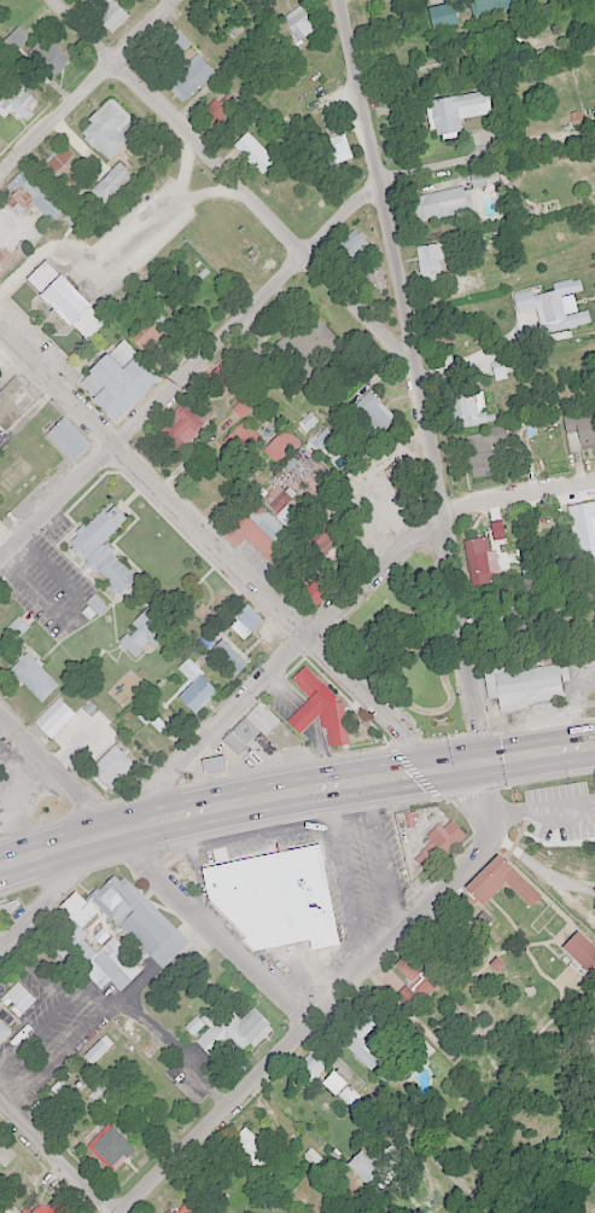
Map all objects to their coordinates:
building: (491, 5)
building: (109, 13)
building: (441, 14)
building: (298, 23)
building: (51, 60)
building: (189, 77)
road: (86, 86)
building: (17, 100)
building: (217, 109)
building: (456, 109)
building: (106, 128)
building: (0, 143)
building: (336, 149)
building: (253, 151)
road: (466, 156)
building: (57, 158)
road: (186, 175)
building: (110, 181)
building: (33, 184)
road: (227, 187)
road: (203, 193)
building: (22, 198)
building: (445, 202)
building: (346, 248)
road: (103, 256)
building: (434, 260)
building: (1, 262)
road: (6, 284)
building: (64, 300)
building: (573, 309)
building: (148, 330)
building: (305, 349)
road: (477, 359)
road: (186, 370)
road: (419, 378)
building: (115, 383)
building: (12, 401)
building: (243, 406)
building: (465, 408)
building: (372, 411)
building: (181, 424)
building: (581, 428)
building: (66, 439)
building: (240, 440)
building: (322, 441)
building: (280, 445)
building: (483, 449)
building: (298, 463)
building: (399, 477)
road: (518, 497)
building: (256, 529)
building: (583, 529)
building: (101, 547)
building: (478, 561)
road: (243, 582)
building: (308, 598)
building: (245, 619)
building: (142, 632)
building: (227, 656)
building: (33, 677)
building: (523, 685)
building: (194, 689)
building: (329, 712)
building: (53, 718)
road: (217, 726)
building: (258, 731)
building: (253, 741)
building: (294, 742)
road: (587, 747)
traffic signals: (486, 761)
building: (212, 764)
building: (111, 767)
traffic signals: (434, 768)
building: (227, 770)
gas station: (227, 770)
road: (286, 793)
road: (538, 812)
building: (438, 842)
road: (151, 871)
road: (346, 875)
building: (498, 881)
building: (275, 900)
building: (139, 919)
building: (579, 951)
building: (99, 959)
road: (39, 974)
building: (415, 976)
road: (93, 996)
building: (18, 998)
road: (332, 998)
road: (113, 1004)
building: (4, 1029)
building: (227, 1029)
building: (593, 1031)
road: (37, 1032)
building: (360, 1039)
building: (94, 1052)
building: (321, 1074)
building: (109, 1148)
building: (247, 1148)
road: (53, 1159)
building: (47, 1206)

